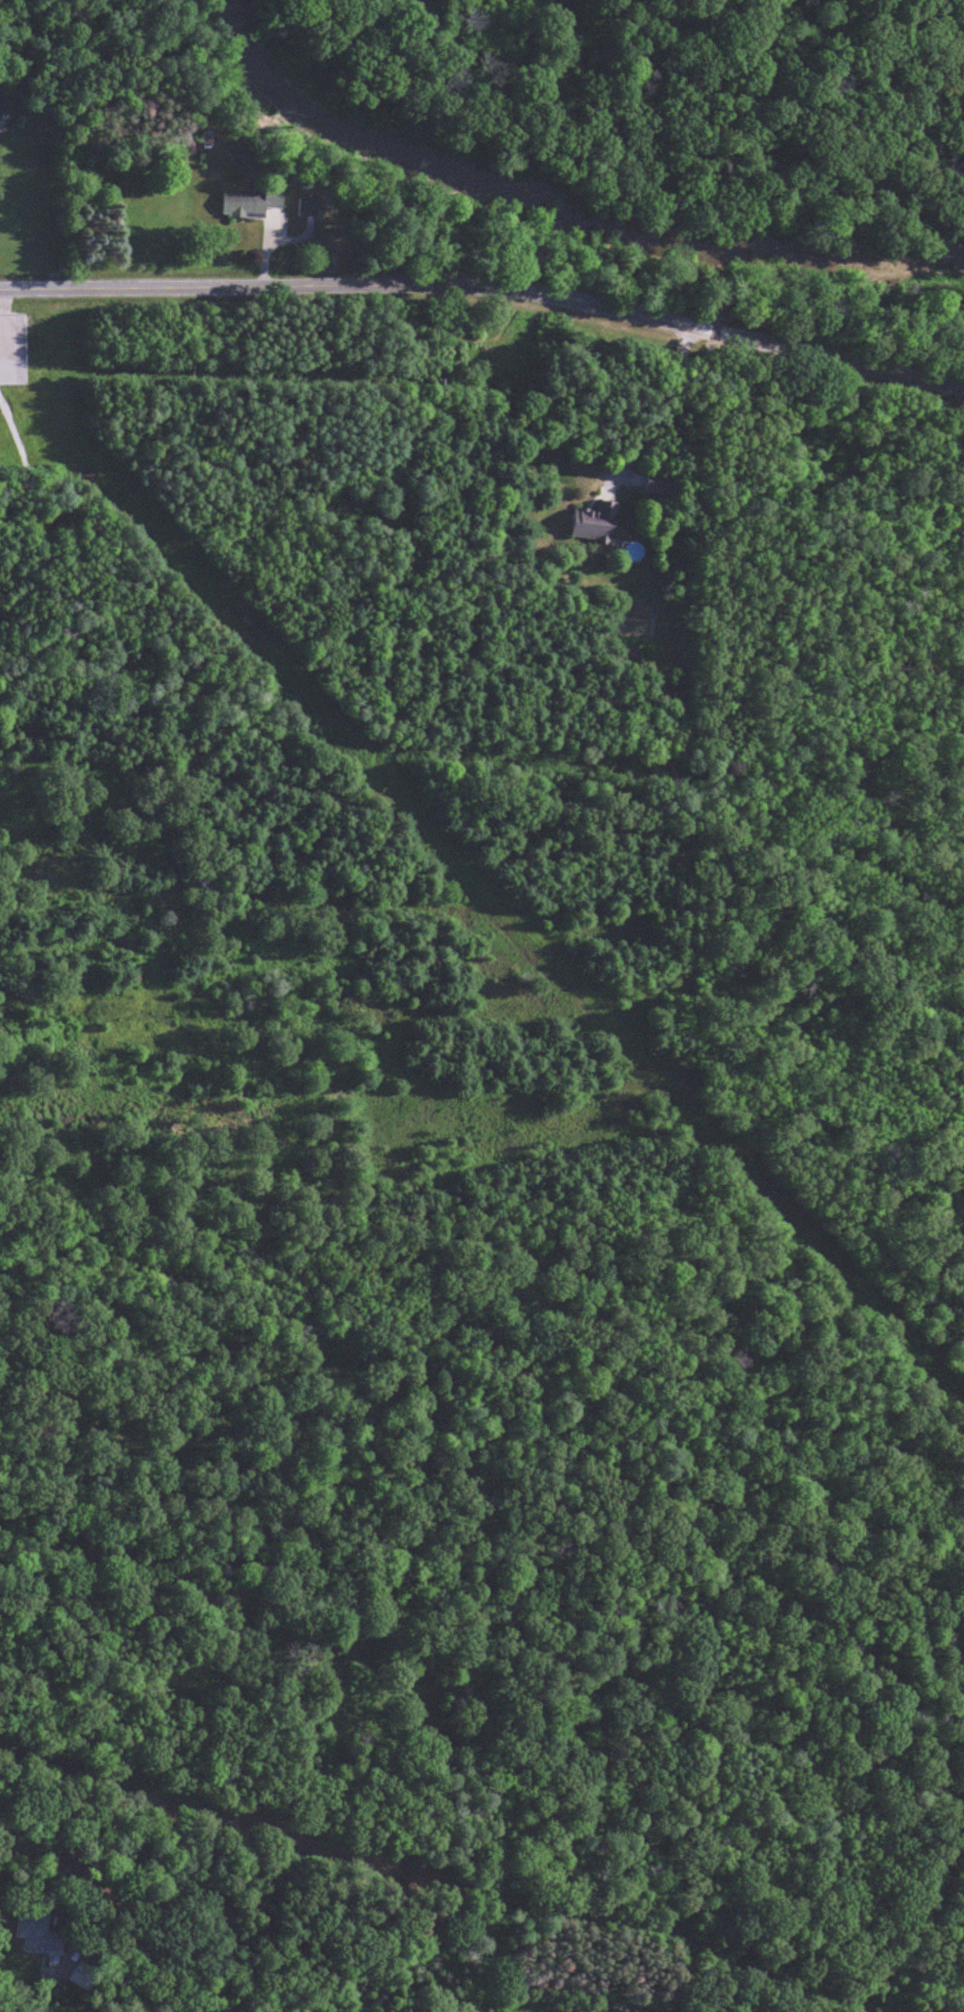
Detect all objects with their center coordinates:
building: (5, 111)
river: (596, 183)
building: (257, 204)
building: (313, 209)
road: (487, 295)
building: (662, 484)
building: (597, 524)

